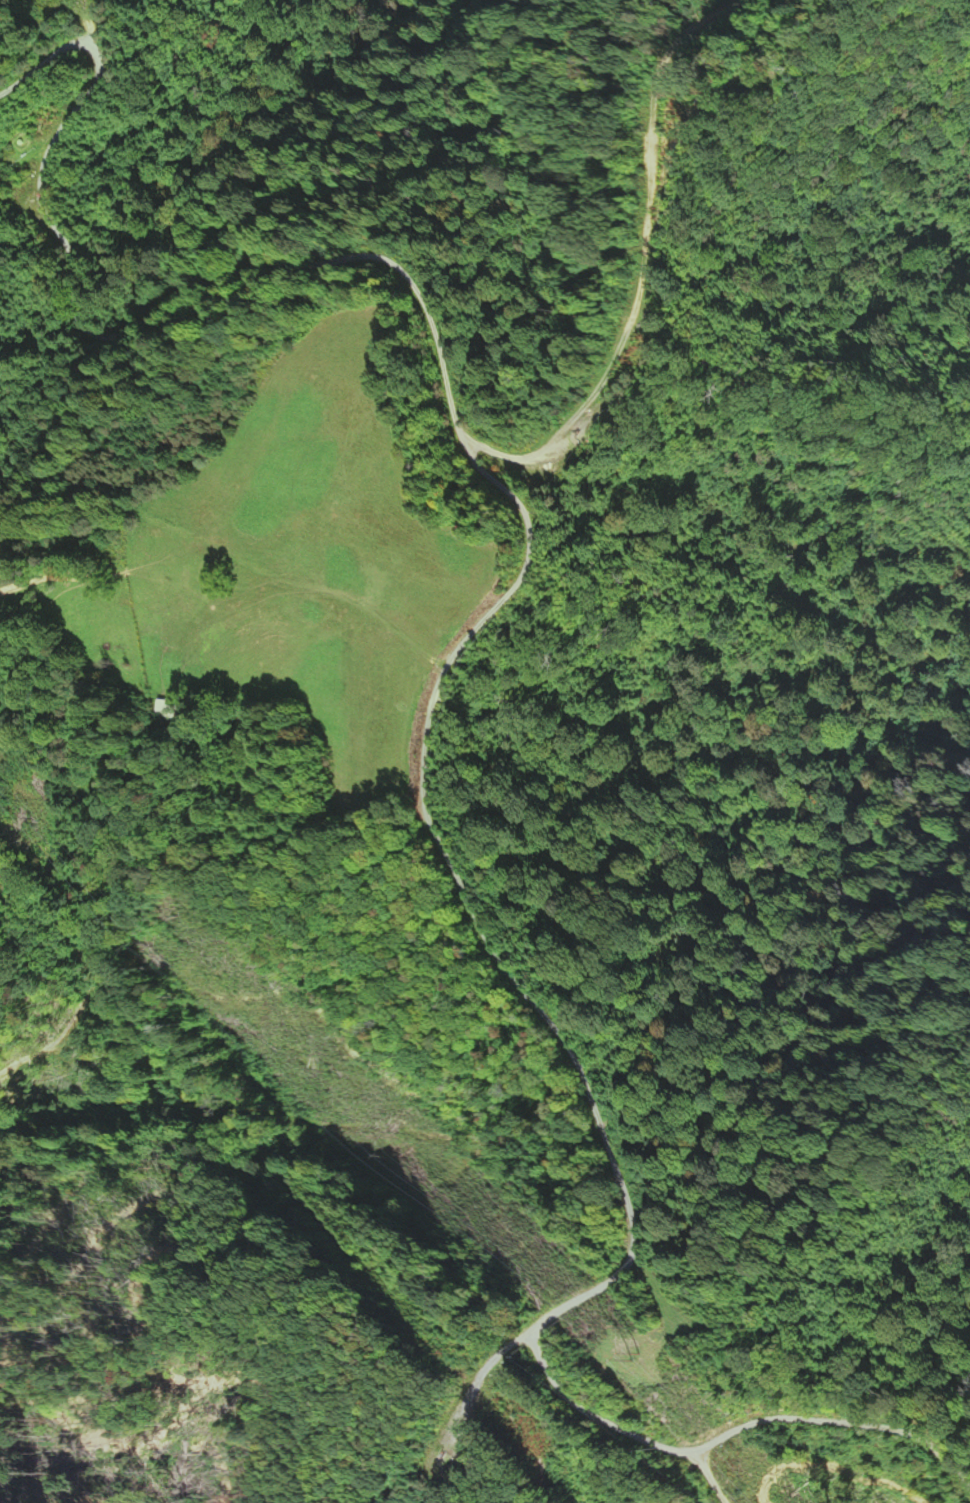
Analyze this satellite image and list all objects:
road: (410, 280)
building: (171, 709)
road: (507, 970)
road: (836, 1424)
road: (619, 1427)

